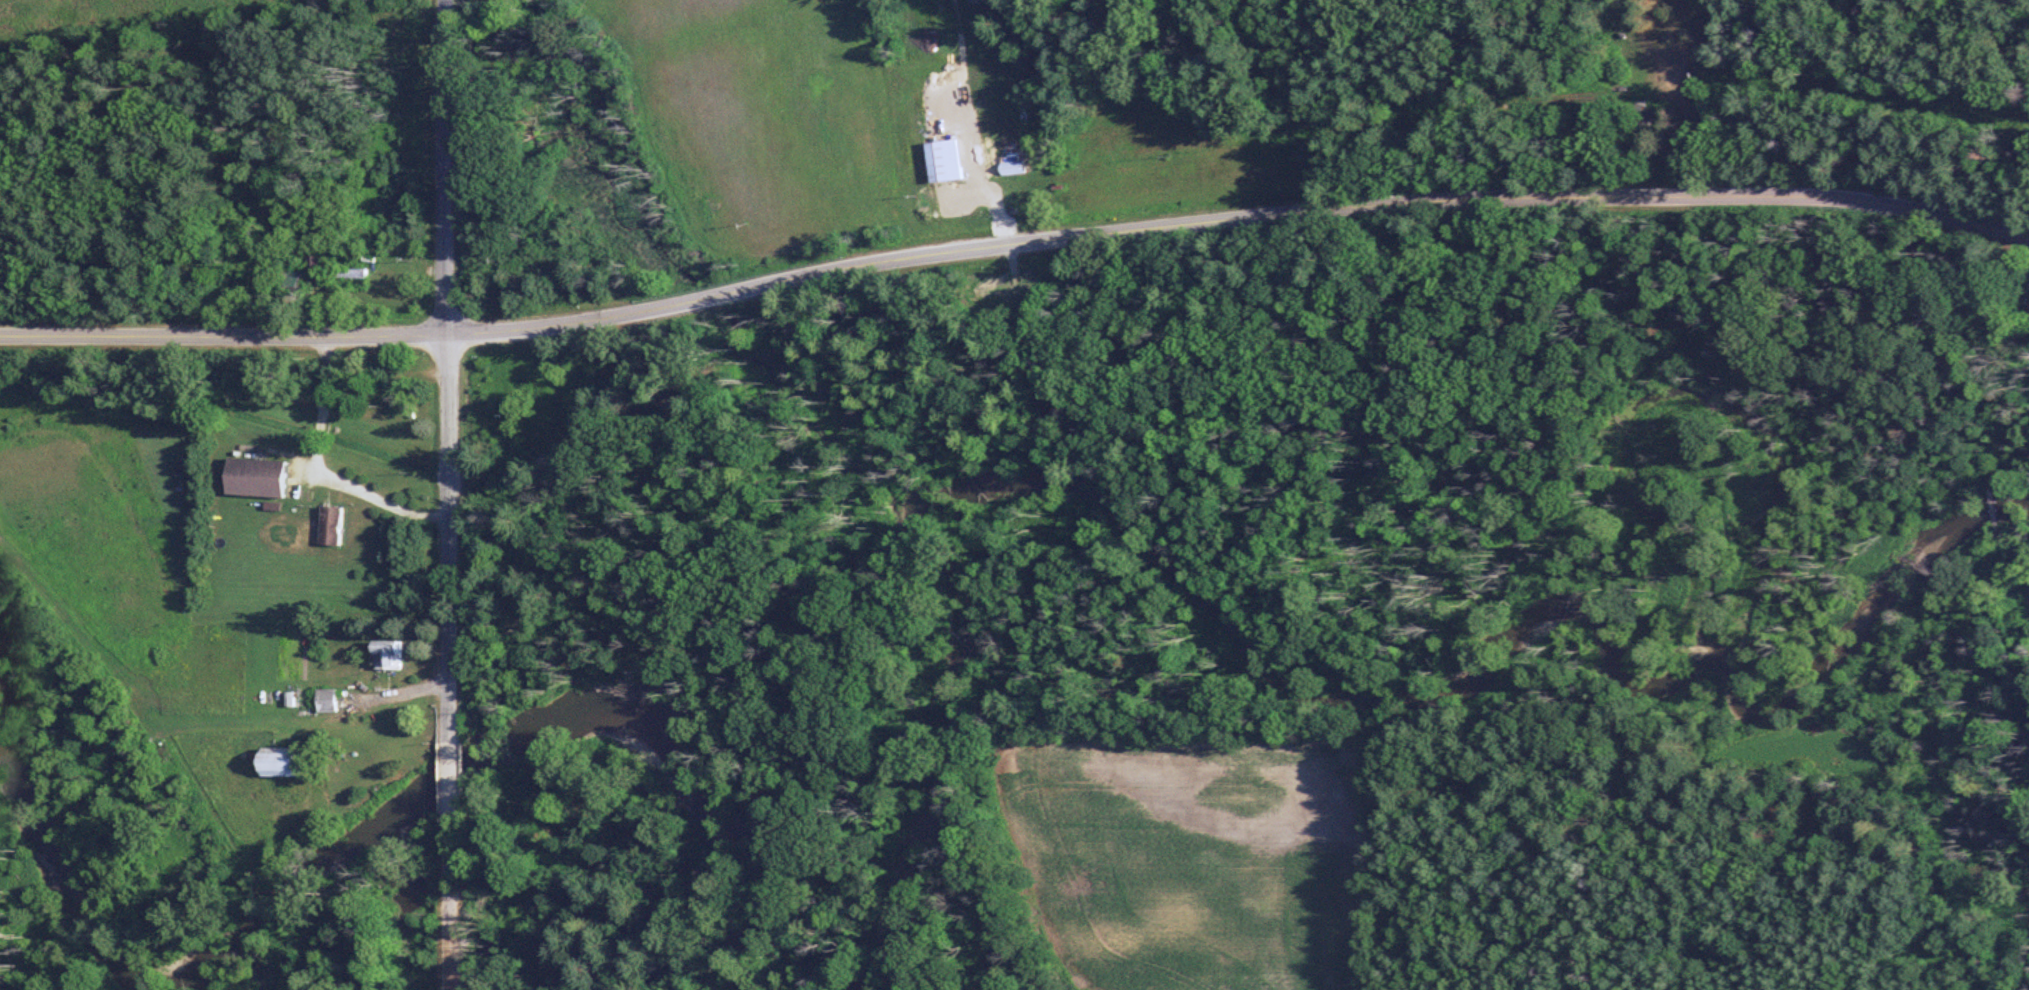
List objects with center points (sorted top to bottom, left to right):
building: (949, 161)
building: (1018, 167)
road: (1014, 245)
building: (319, 263)
building: (353, 273)
building: (304, 278)
building: (2027, 304)
road: (451, 357)
building: (267, 476)
building: (339, 524)
river: (1275, 645)
building: (397, 654)
building: (334, 700)
road: (448, 751)
building: (292, 762)
river: (399, 809)
road: (448, 888)

